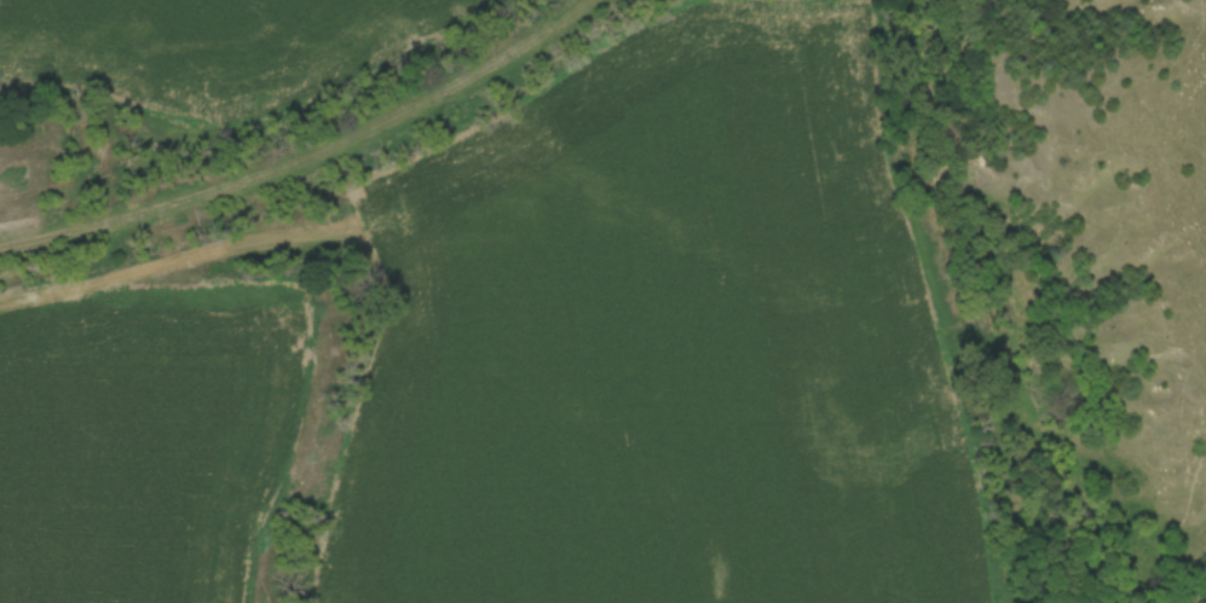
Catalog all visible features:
railway: (311, 161)

